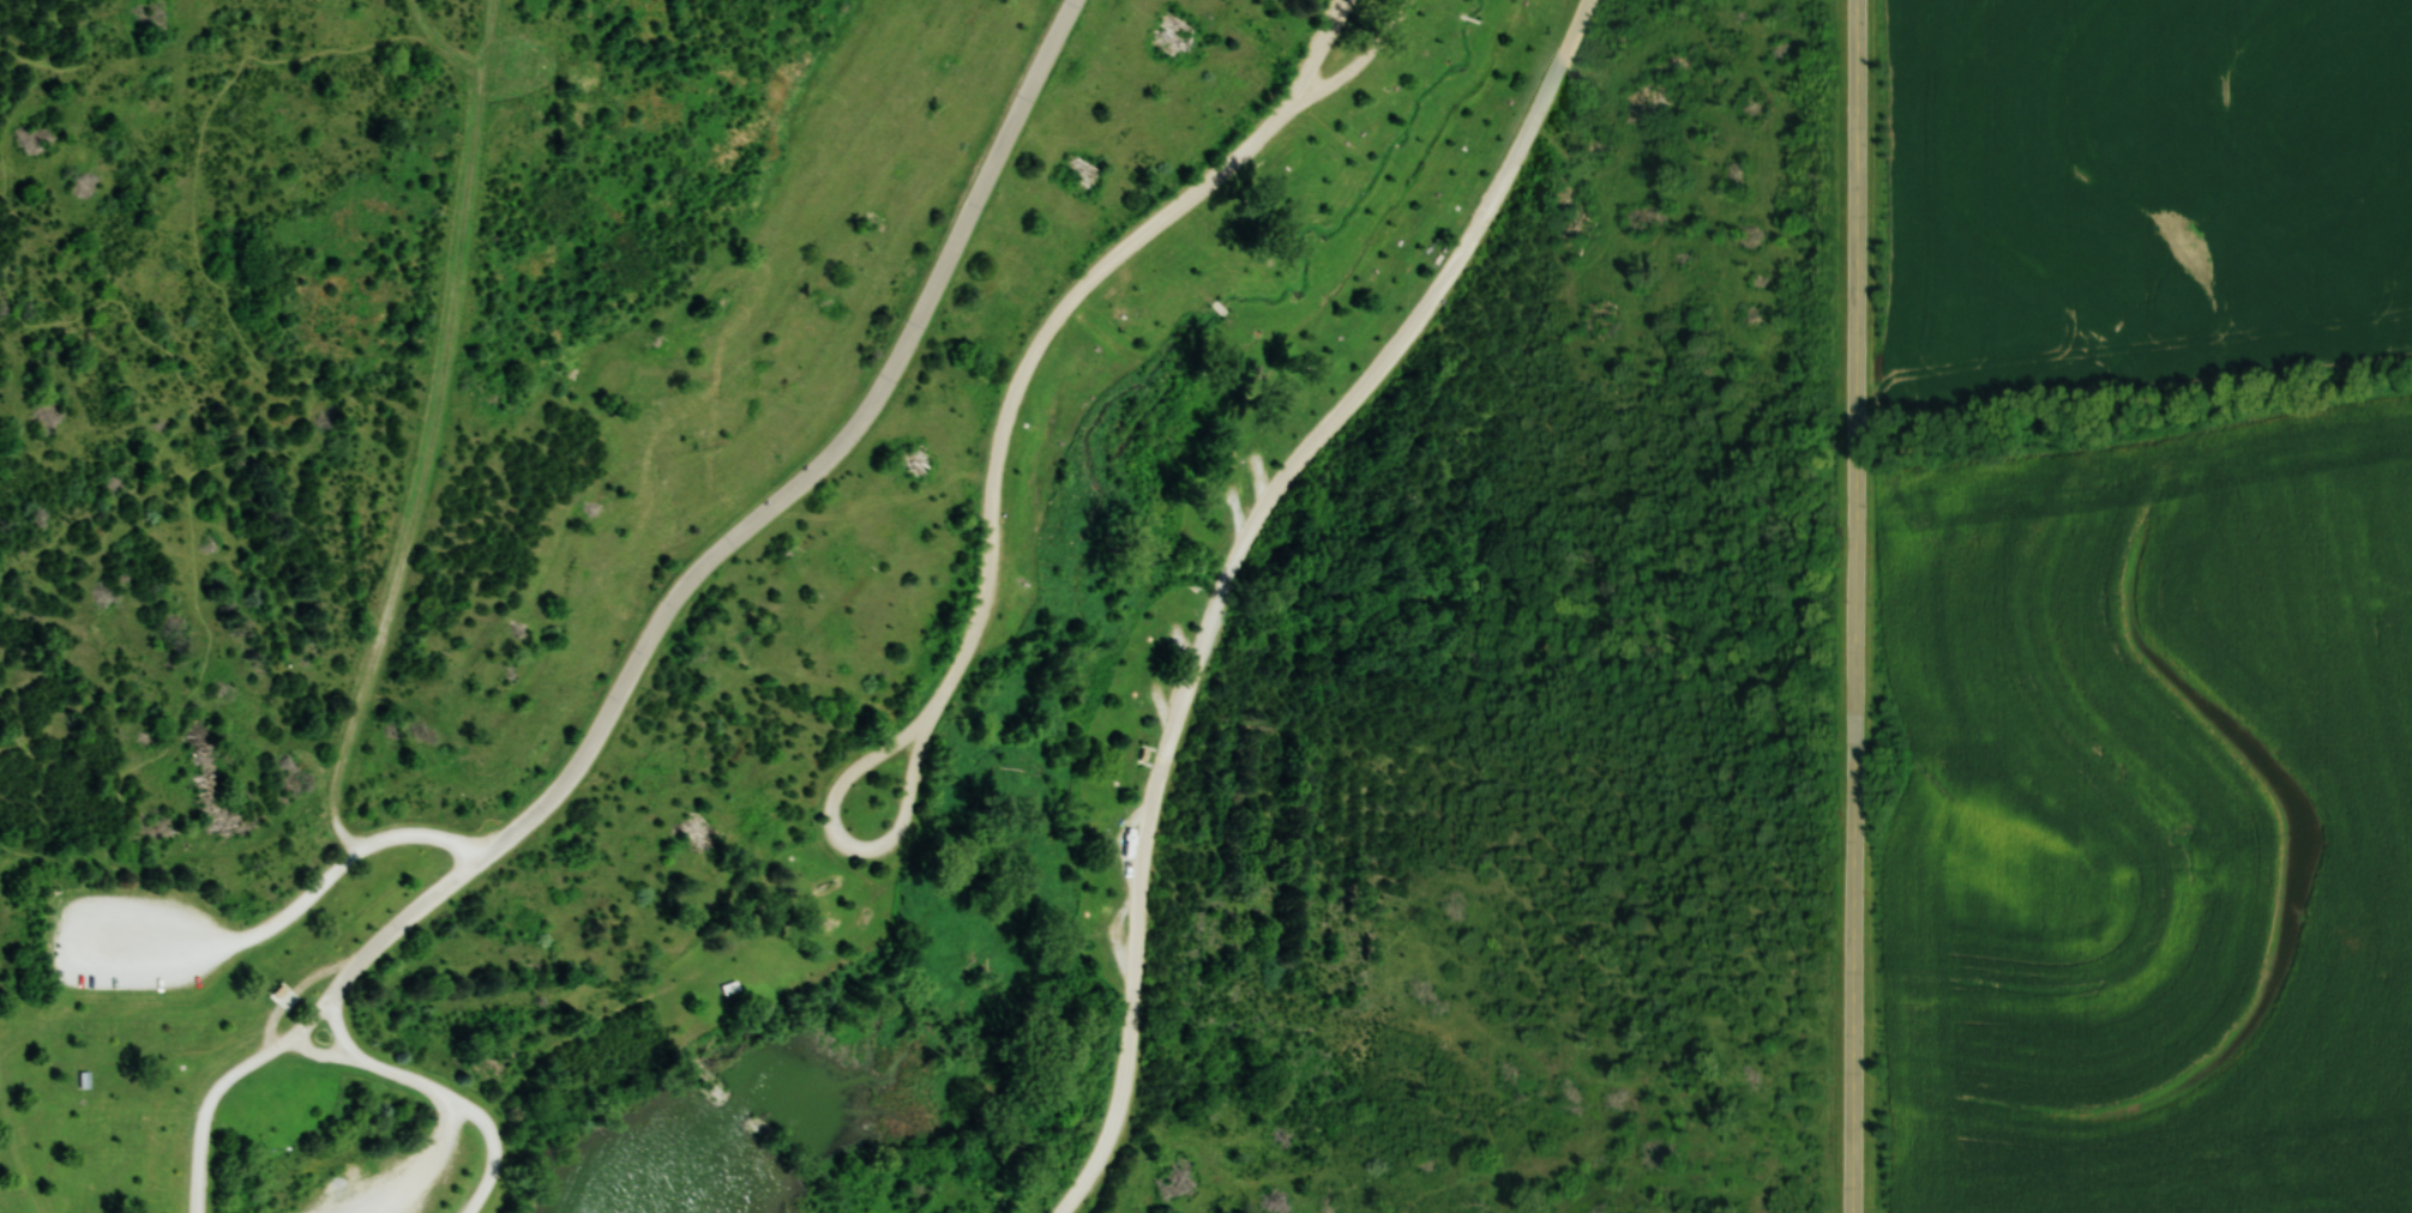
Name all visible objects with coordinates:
road: (1677, 5)
road: (501, 46)
road: (456, 47)
road: (1366, 56)
road: (80, 64)
road: (1773, 246)
road: (217, 280)
road: (1055, 316)
road: (156, 342)
road: (1512, 385)
road: (1262, 478)
road: (433, 479)
road: (1239, 511)
road: (748, 529)
road: (1718, 535)
road: (1234, 569)
road: (91, 598)
park: (927, 605)
road: (1854, 606)
road: (1183, 644)
road: (1529, 698)
road: (1160, 704)
road: (95, 711)
road: (176, 722)
building: (1138, 753)
road: (1461, 765)
road: (855, 770)
road: (1430, 773)
road: (1527, 784)
road: (1619, 791)
road: (14, 802)
road: (1479, 810)
road: (1588, 811)
road: (1460, 816)
road: (49, 827)
road: (1434, 832)
road: (1125, 840)
road: (25, 851)
road: (1625, 852)
road: (1480, 856)
road: (1451, 857)
road: (70, 858)
road: (349, 862)
road: (142, 863)
road: (1732, 869)
road: (52, 875)
road: (31, 883)
road: (1115, 933)
parking lot: (138, 941)
road: (150, 943)
building: (732, 988)
road: (315, 1019)
road: (342, 1027)
road: (1575, 1030)
road: (1318, 1031)
road: (325, 1054)
road: (405, 1076)
building: (84, 1079)
road: (210, 1104)
building: (188, 1111)
road: (497, 1149)
road: (425, 1164)
parking lot: (385, 1185)

